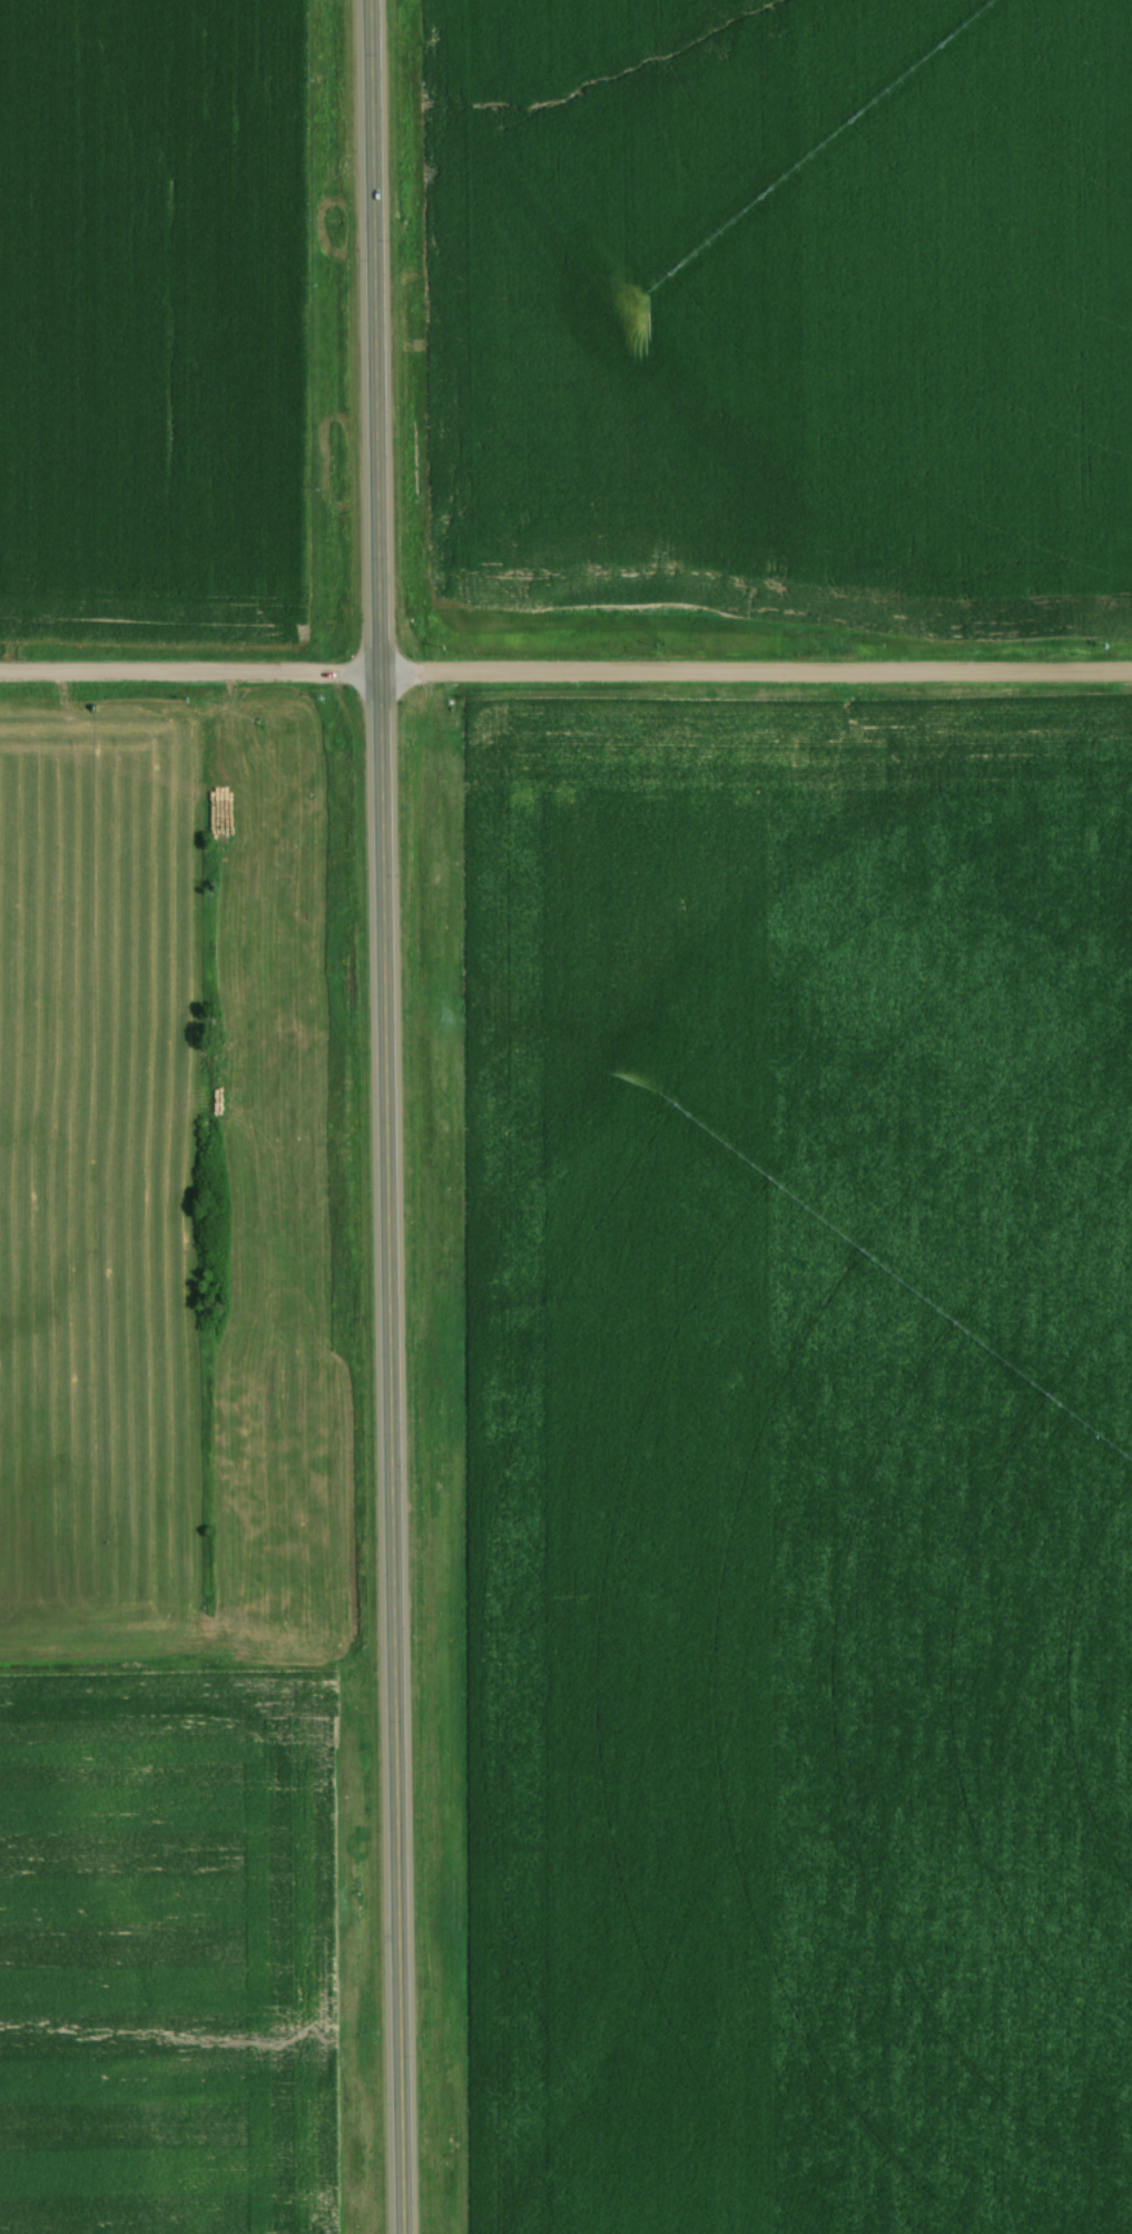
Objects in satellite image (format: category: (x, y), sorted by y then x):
road: (188, 673)
road: (755, 674)
road: (383, 1117)

